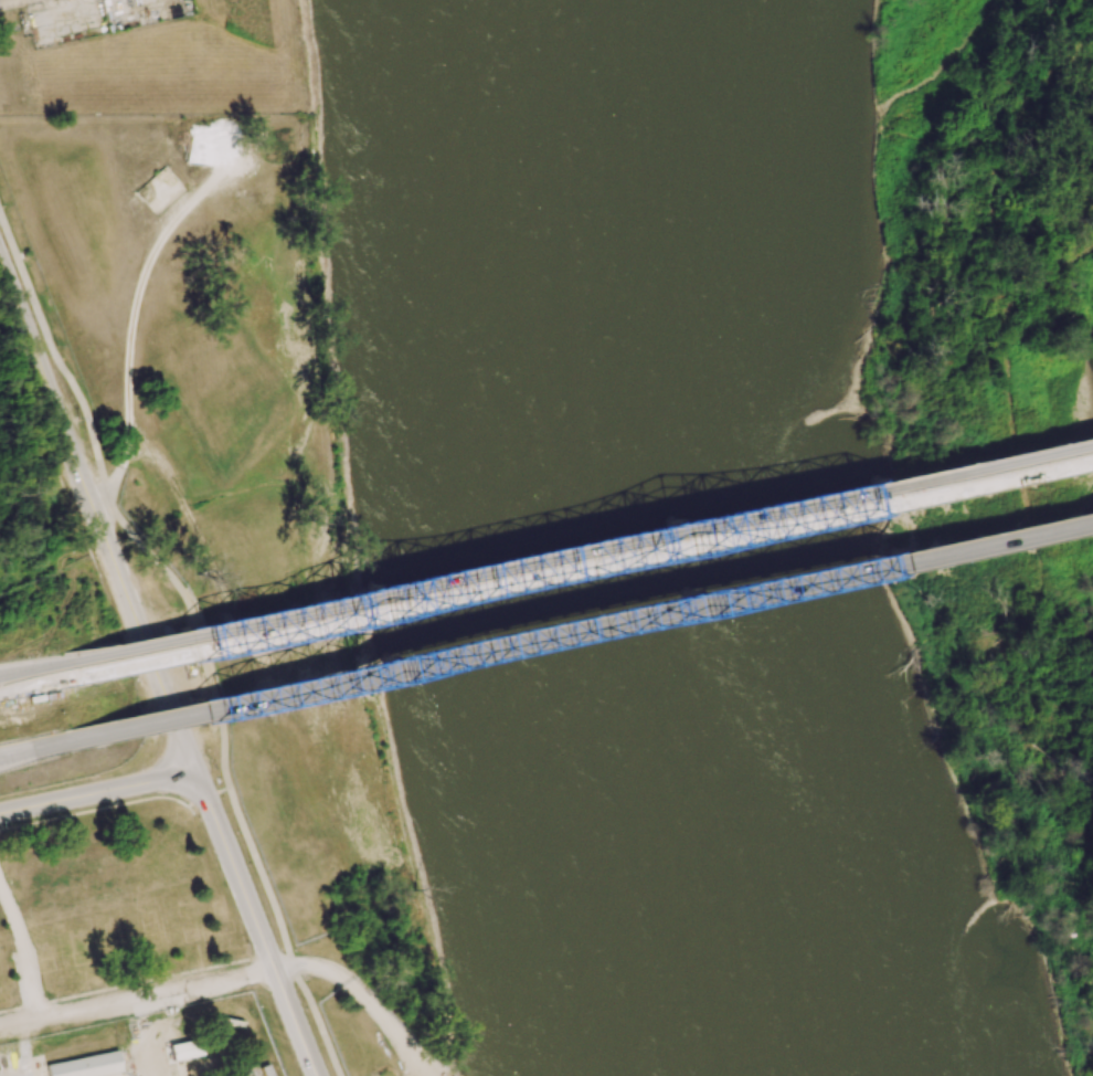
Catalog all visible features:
road: (3, 1)
parking lot: (92, 17)
road: (850, 504)
road: (94, 514)
river: (648, 544)
road: (860, 571)
road: (339, 614)
road: (194, 630)
road: (29, 676)
road: (34, 678)
road: (348, 679)
road: (34, 746)
road: (9, 752)
road: (98, 792)
road: (256, 922)
road: (367, 994)
road: (95, 1002)
building: (184, 1049)
building: (87, 1065)

